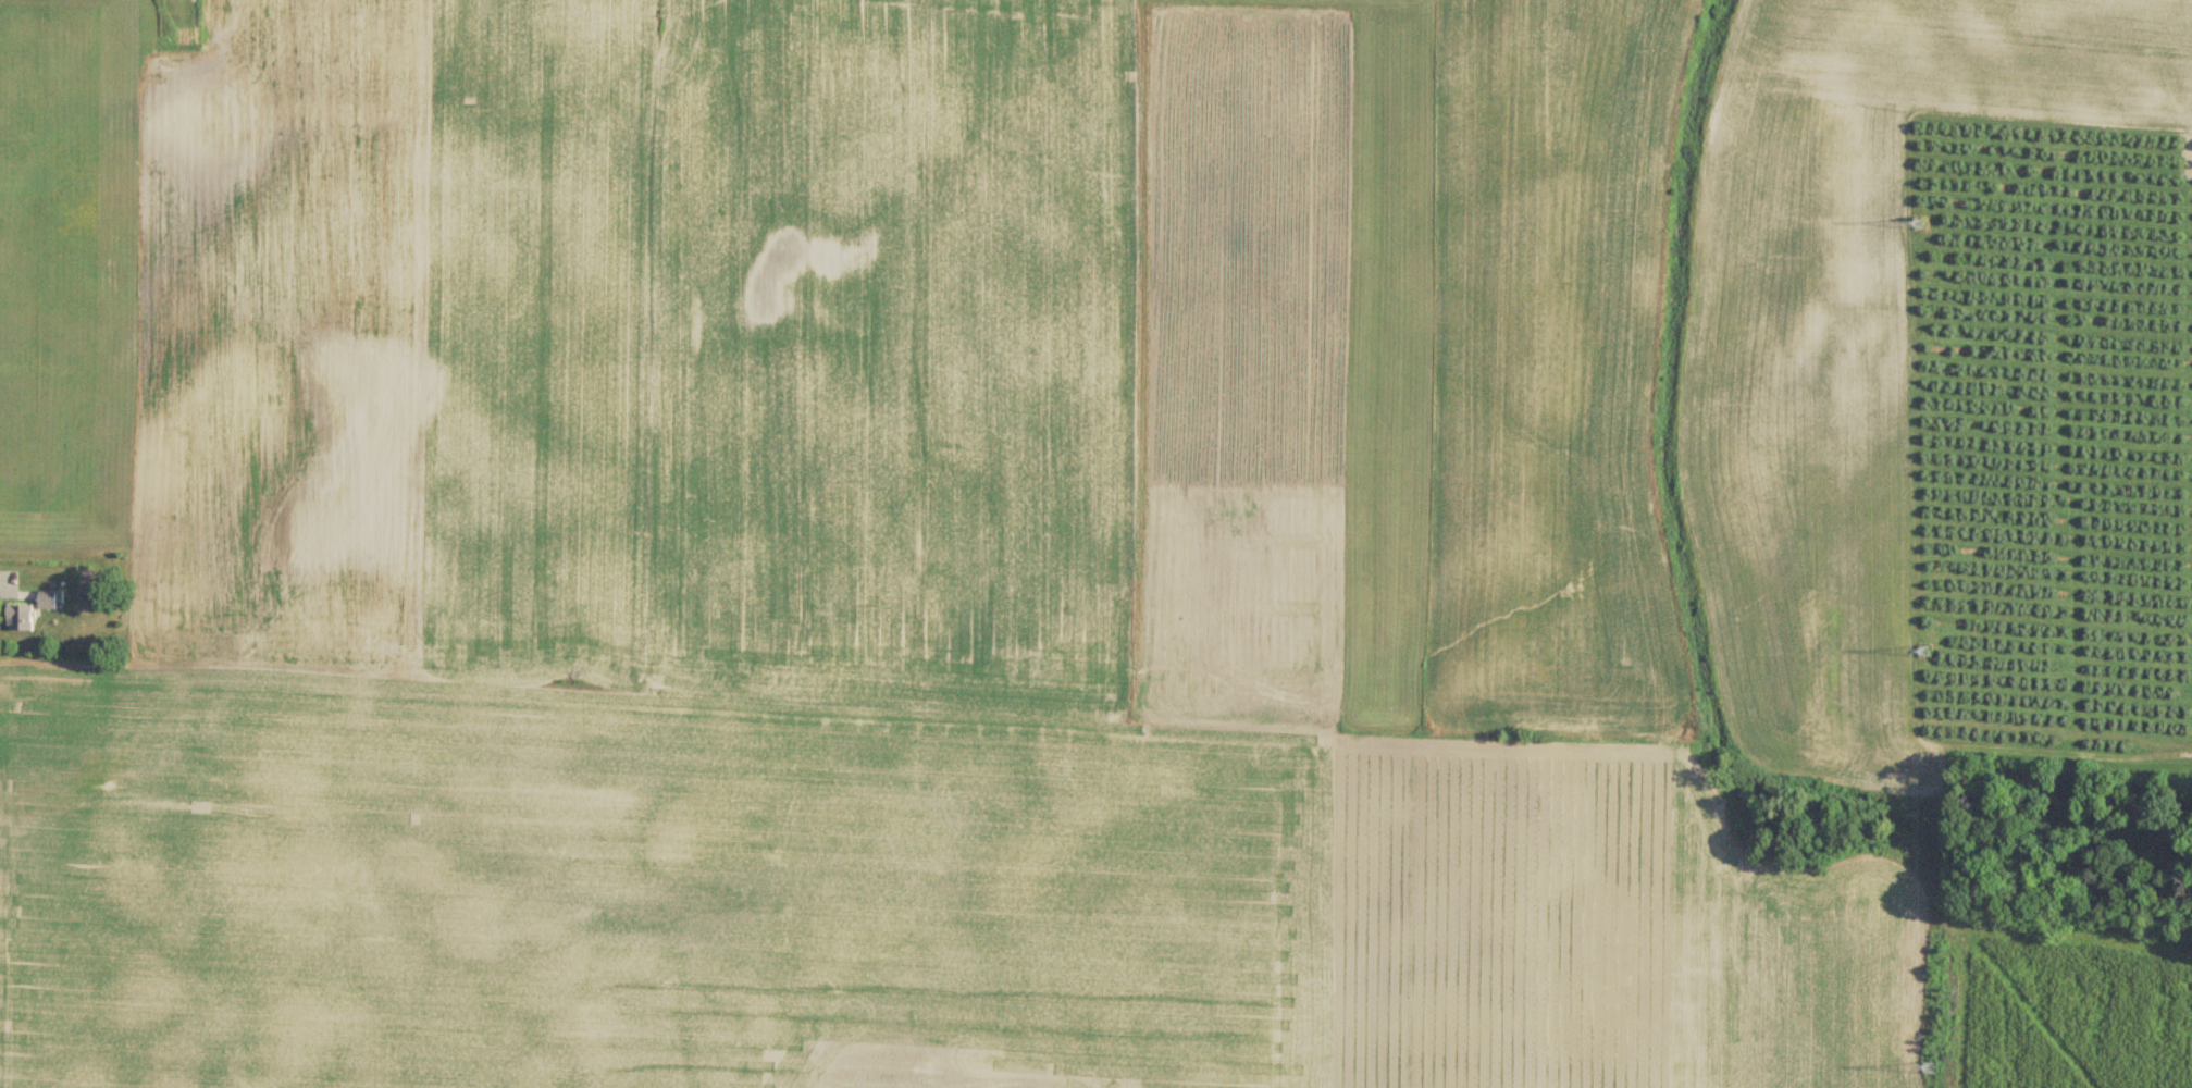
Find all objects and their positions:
power tower: (1916, 224)
building: (52, 601)
building: (22, 618)
power tower: (1923, 656)
power tower: (1925, 1070)

